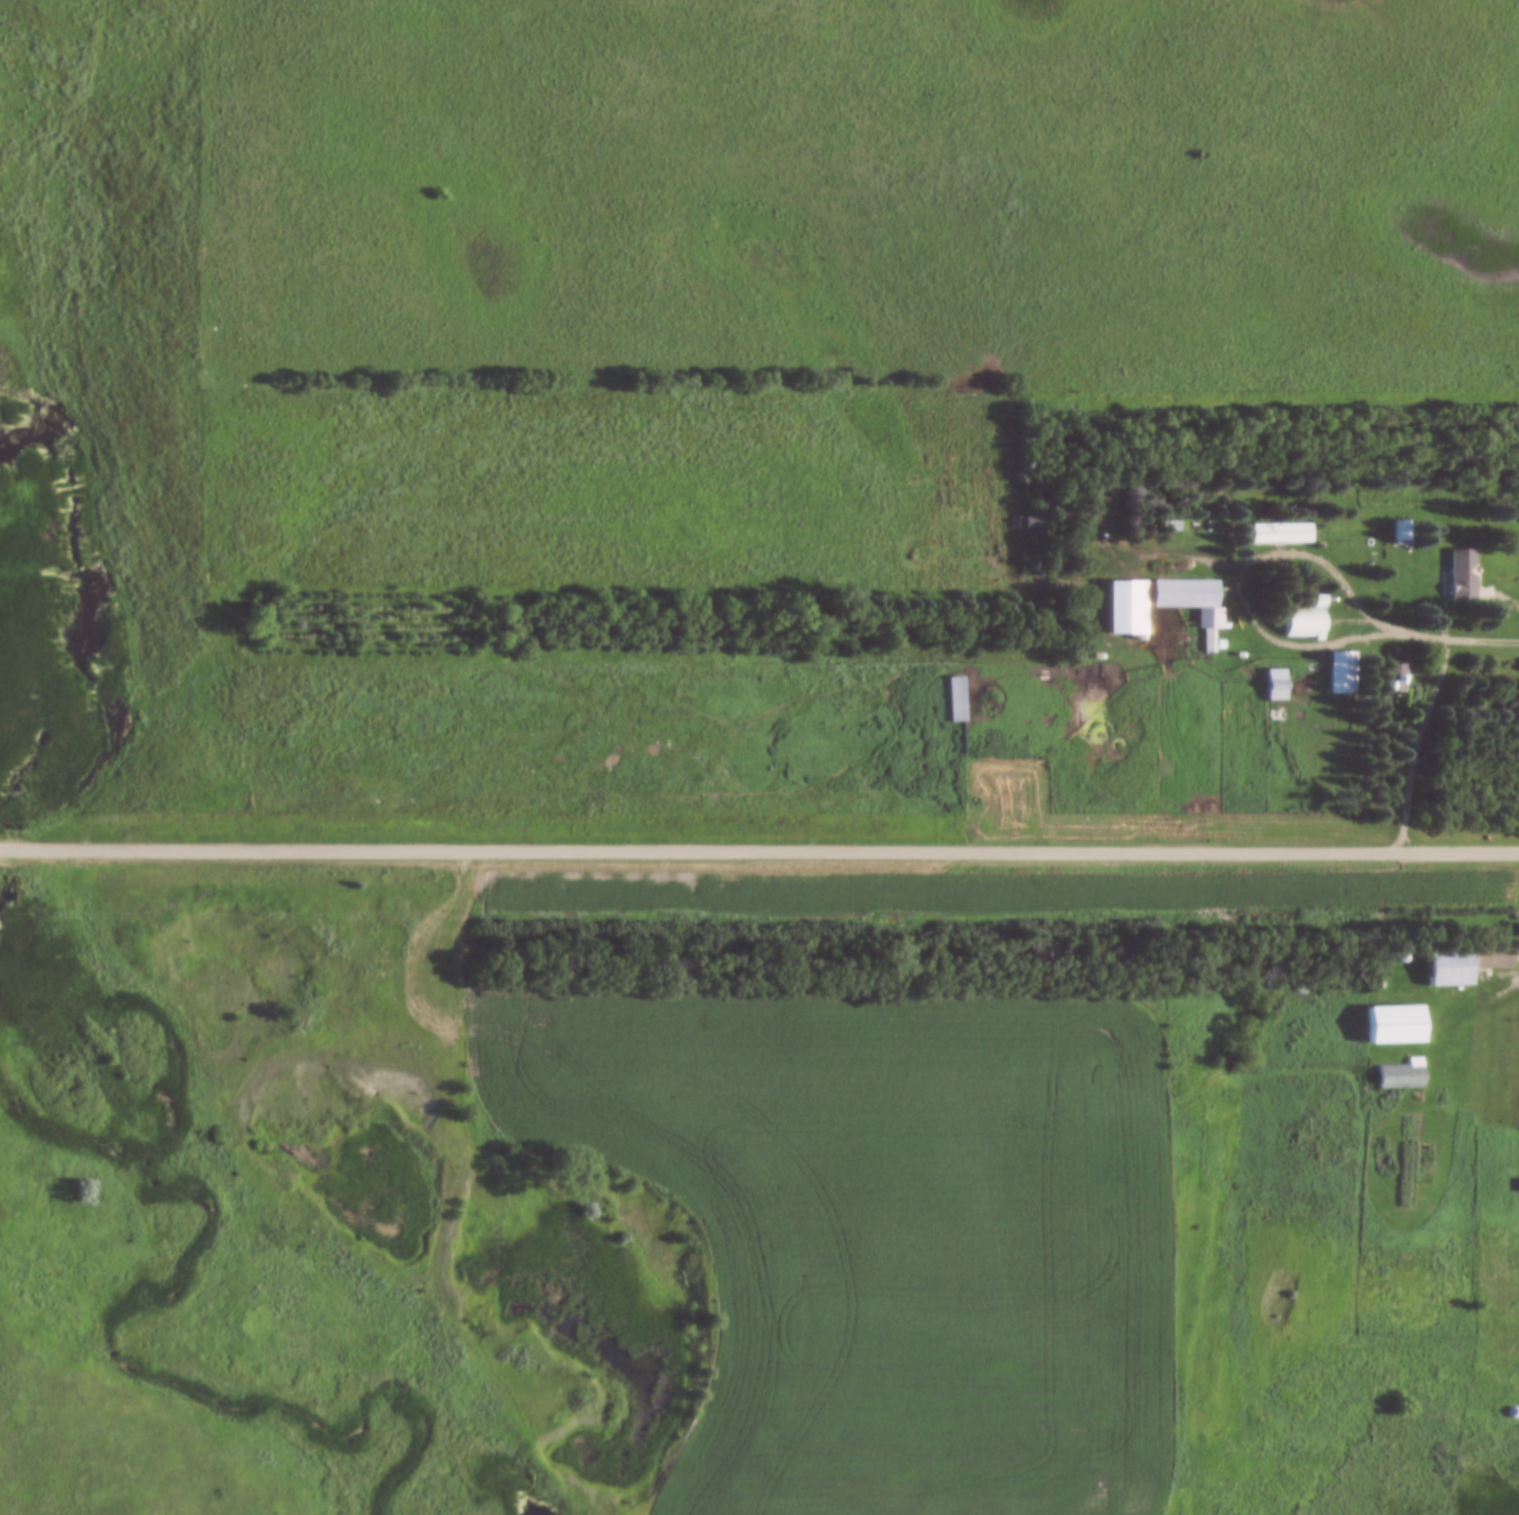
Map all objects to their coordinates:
building: (1029, 522)
building: (1400, 532)
building: (1279, 533)
building: (1461, 575)
building: (1189, 598)
building: (1125, 607)
building: (1305, 621)
river: (75, 639)
road: (1294, 648)
building: (1341, 673)
building: (1396, 680)
building: (1274, 685)
building: (954, 699)
road: (1425, 749)
road: (759, 854)
building: (1492, 957)
building: (1449, 966)
building: (1395, 1024)
building: (1397, 1077)
river: (99, 1354)

